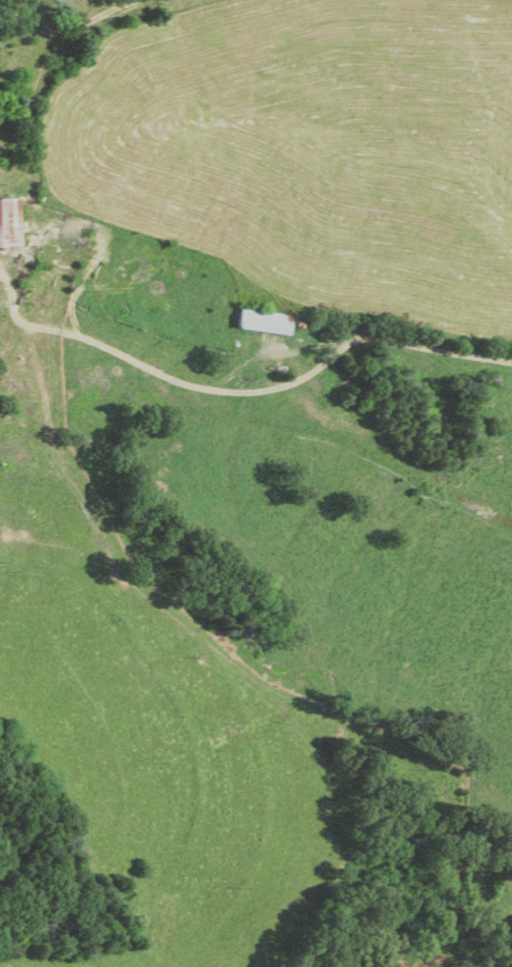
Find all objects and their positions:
building: (8, 224)
building: (261, 324)

